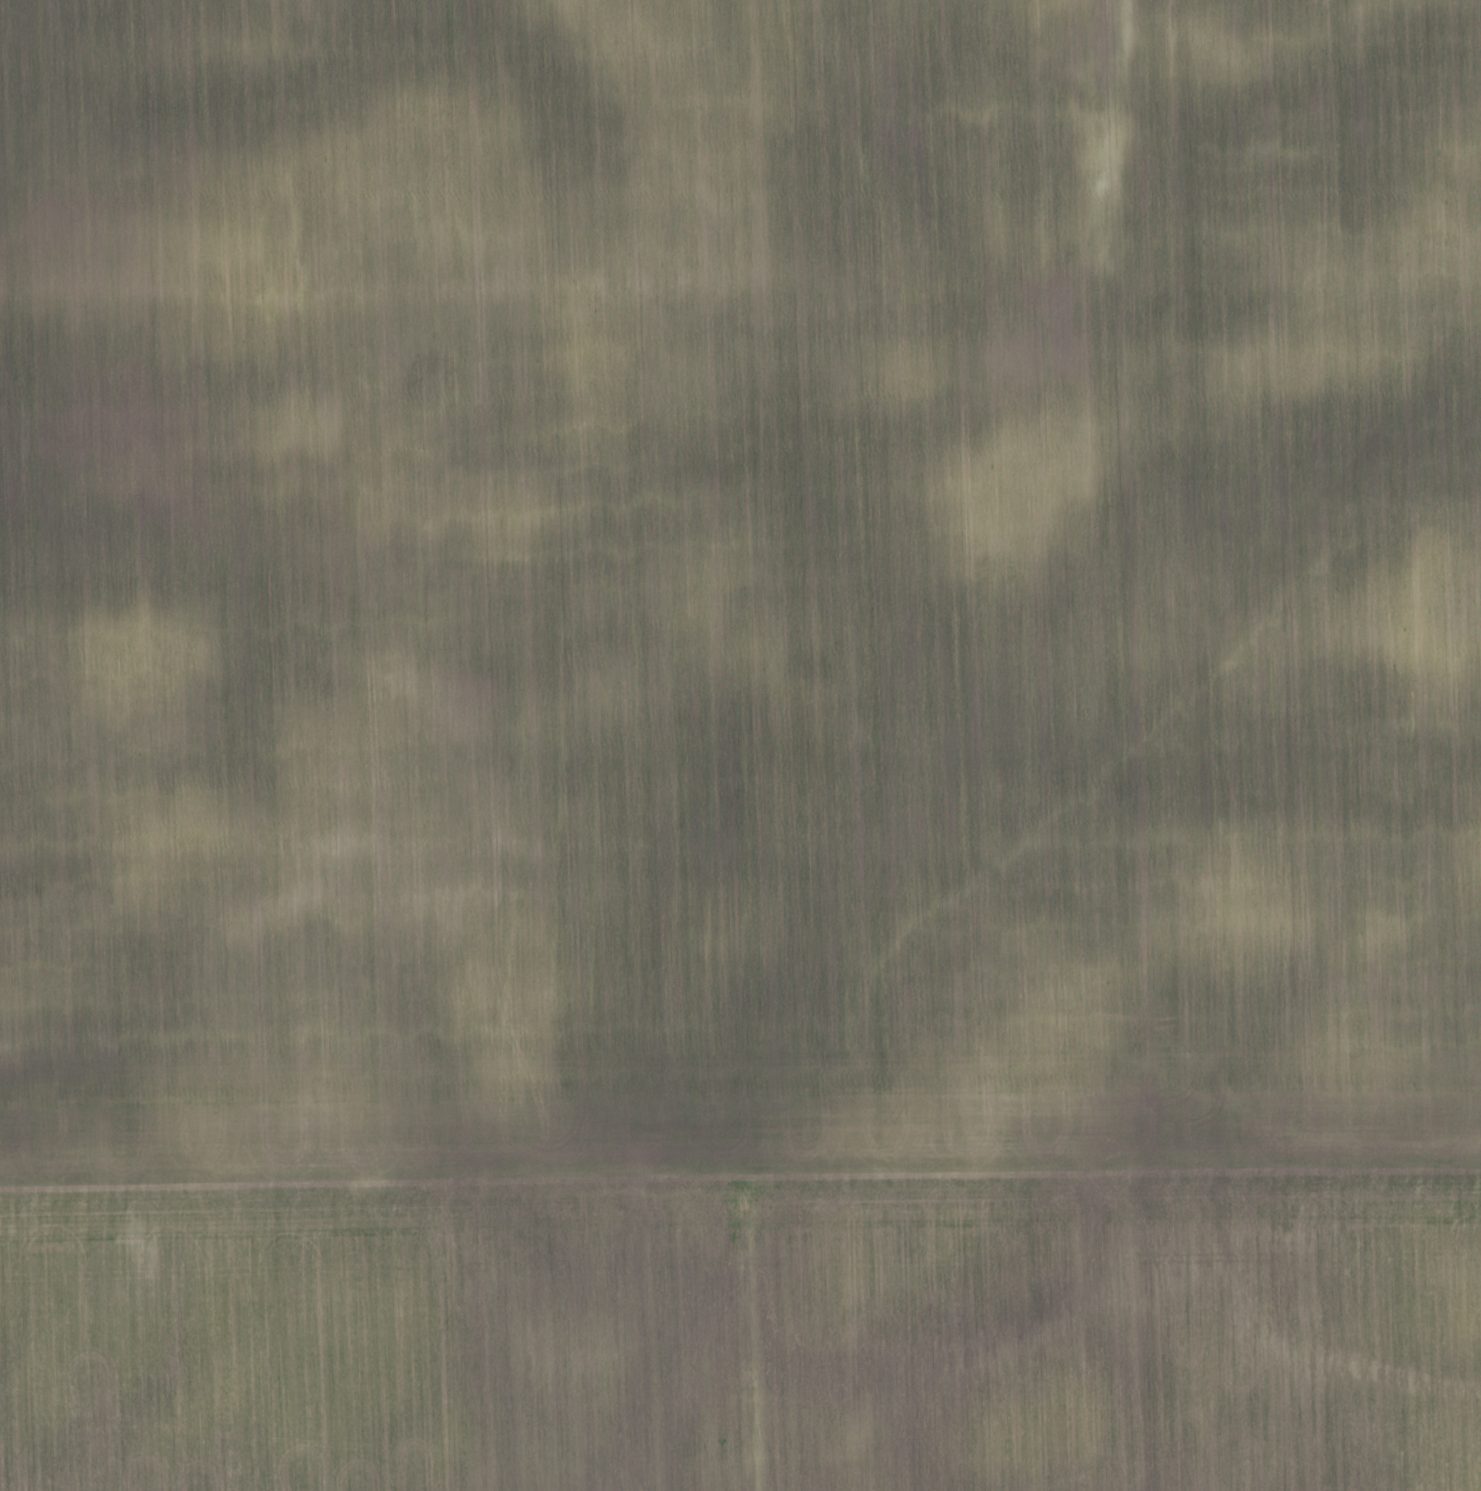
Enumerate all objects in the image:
crop: (740, 745)

